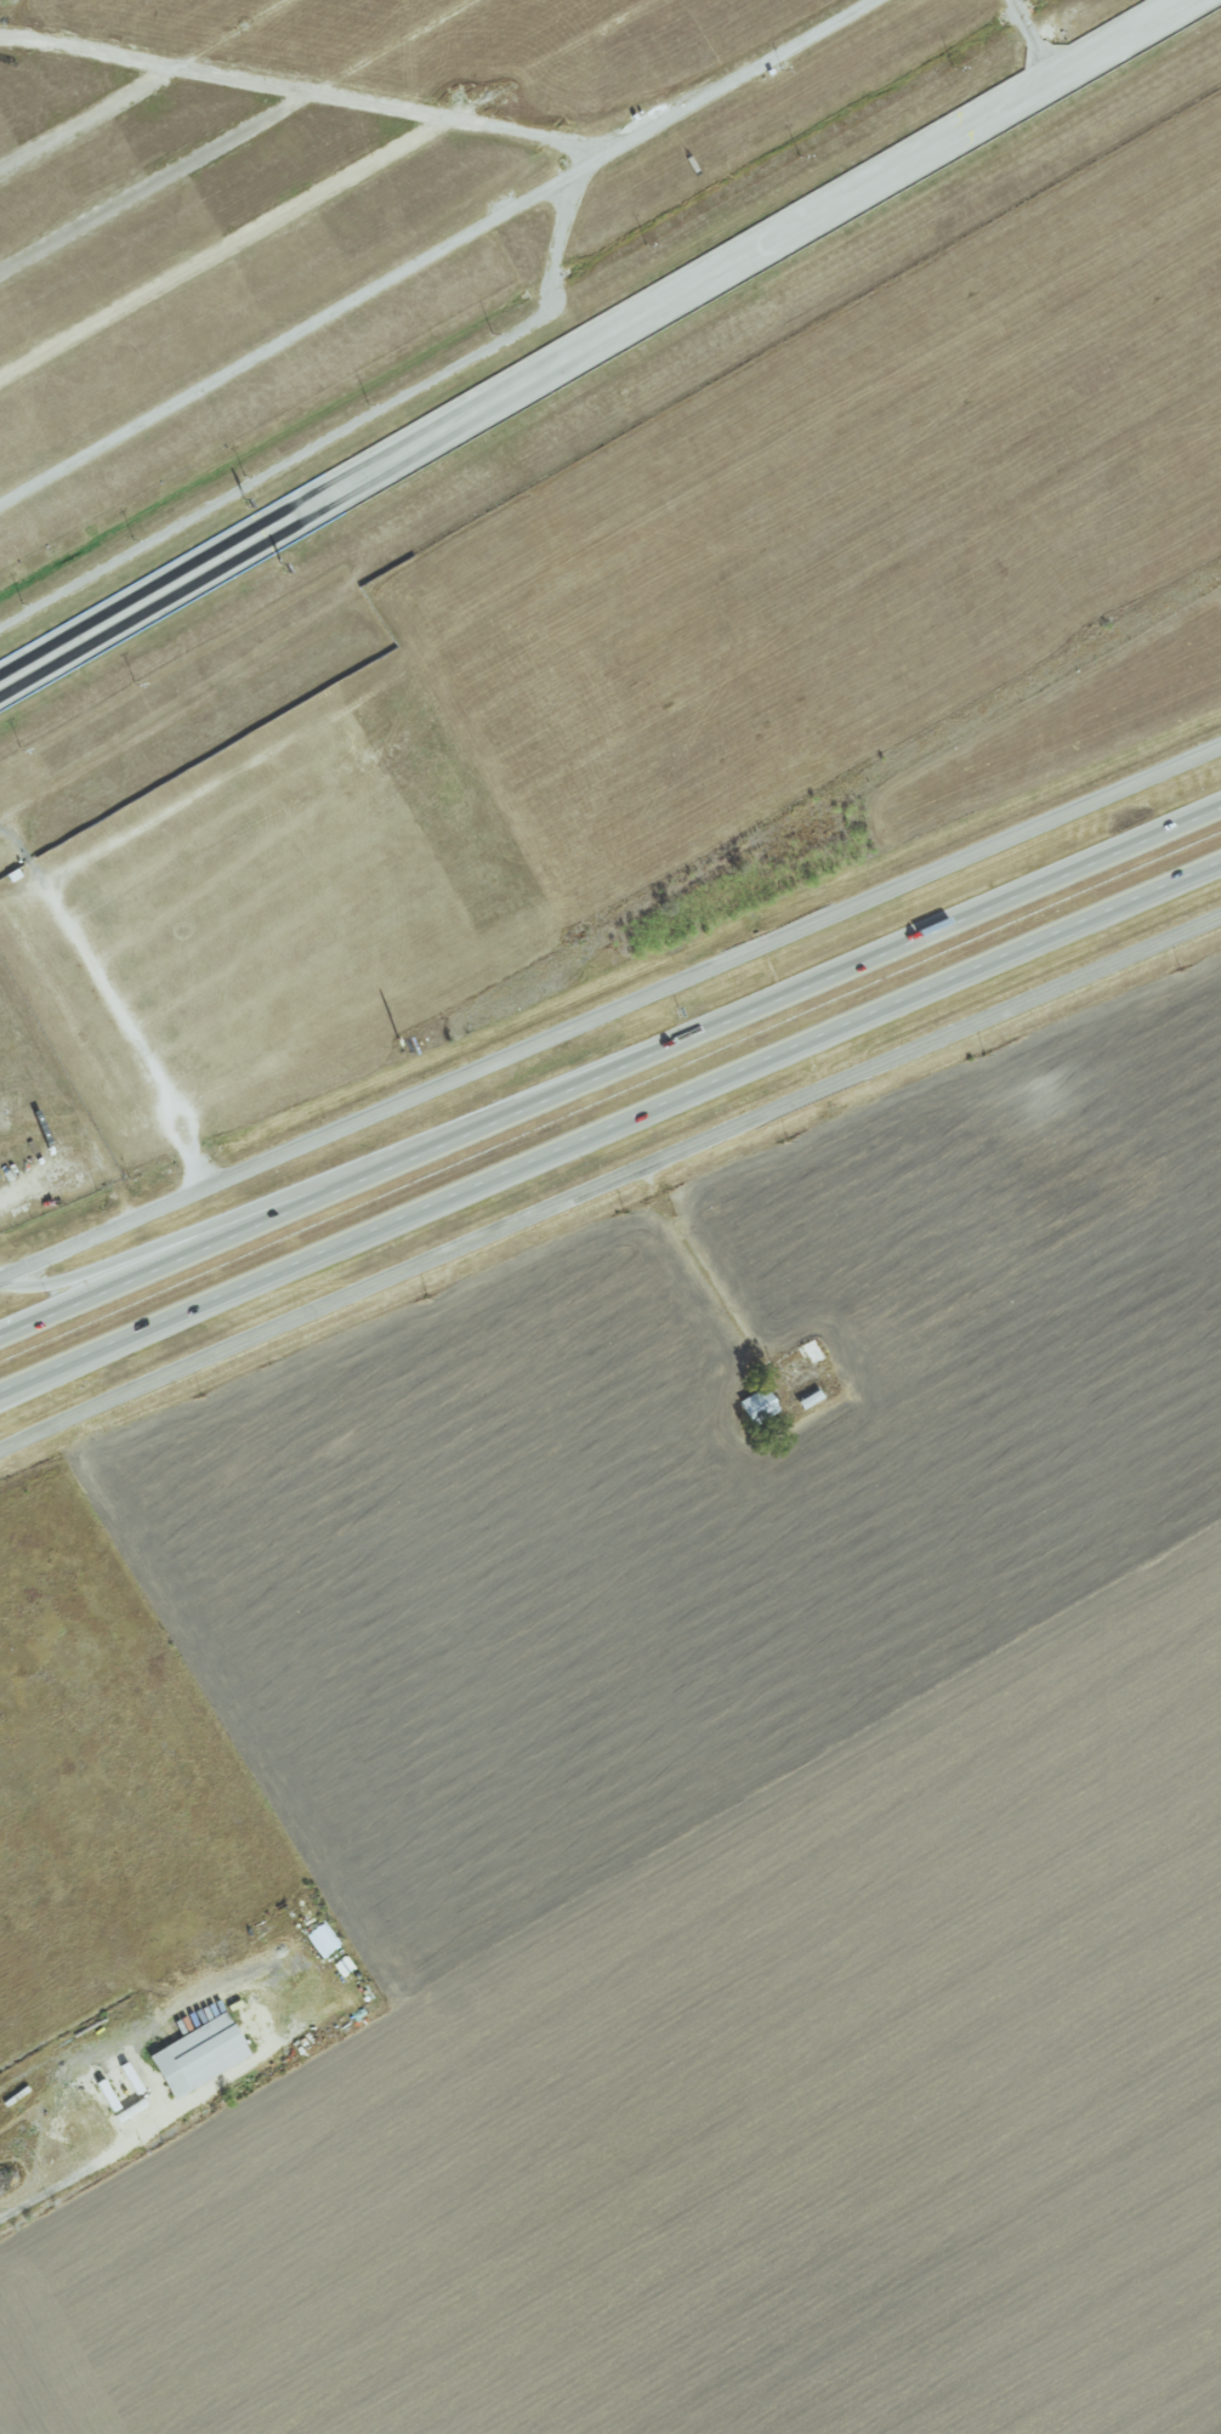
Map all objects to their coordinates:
road: (1038, 38)
road: (142, 81)
road: (299, 87)
road: (234, 135)
road: (325, 185)
road: (437, 250)
raceway: (595, 342)
road: (335, 436)
road: (918, 938)
road: (609, 1014)
road: (610, 1129)
road: (608, 1181)
road: (309, 1188)
road: (307, 1203)
road: (705, 1273)
road: (89, 2164)

